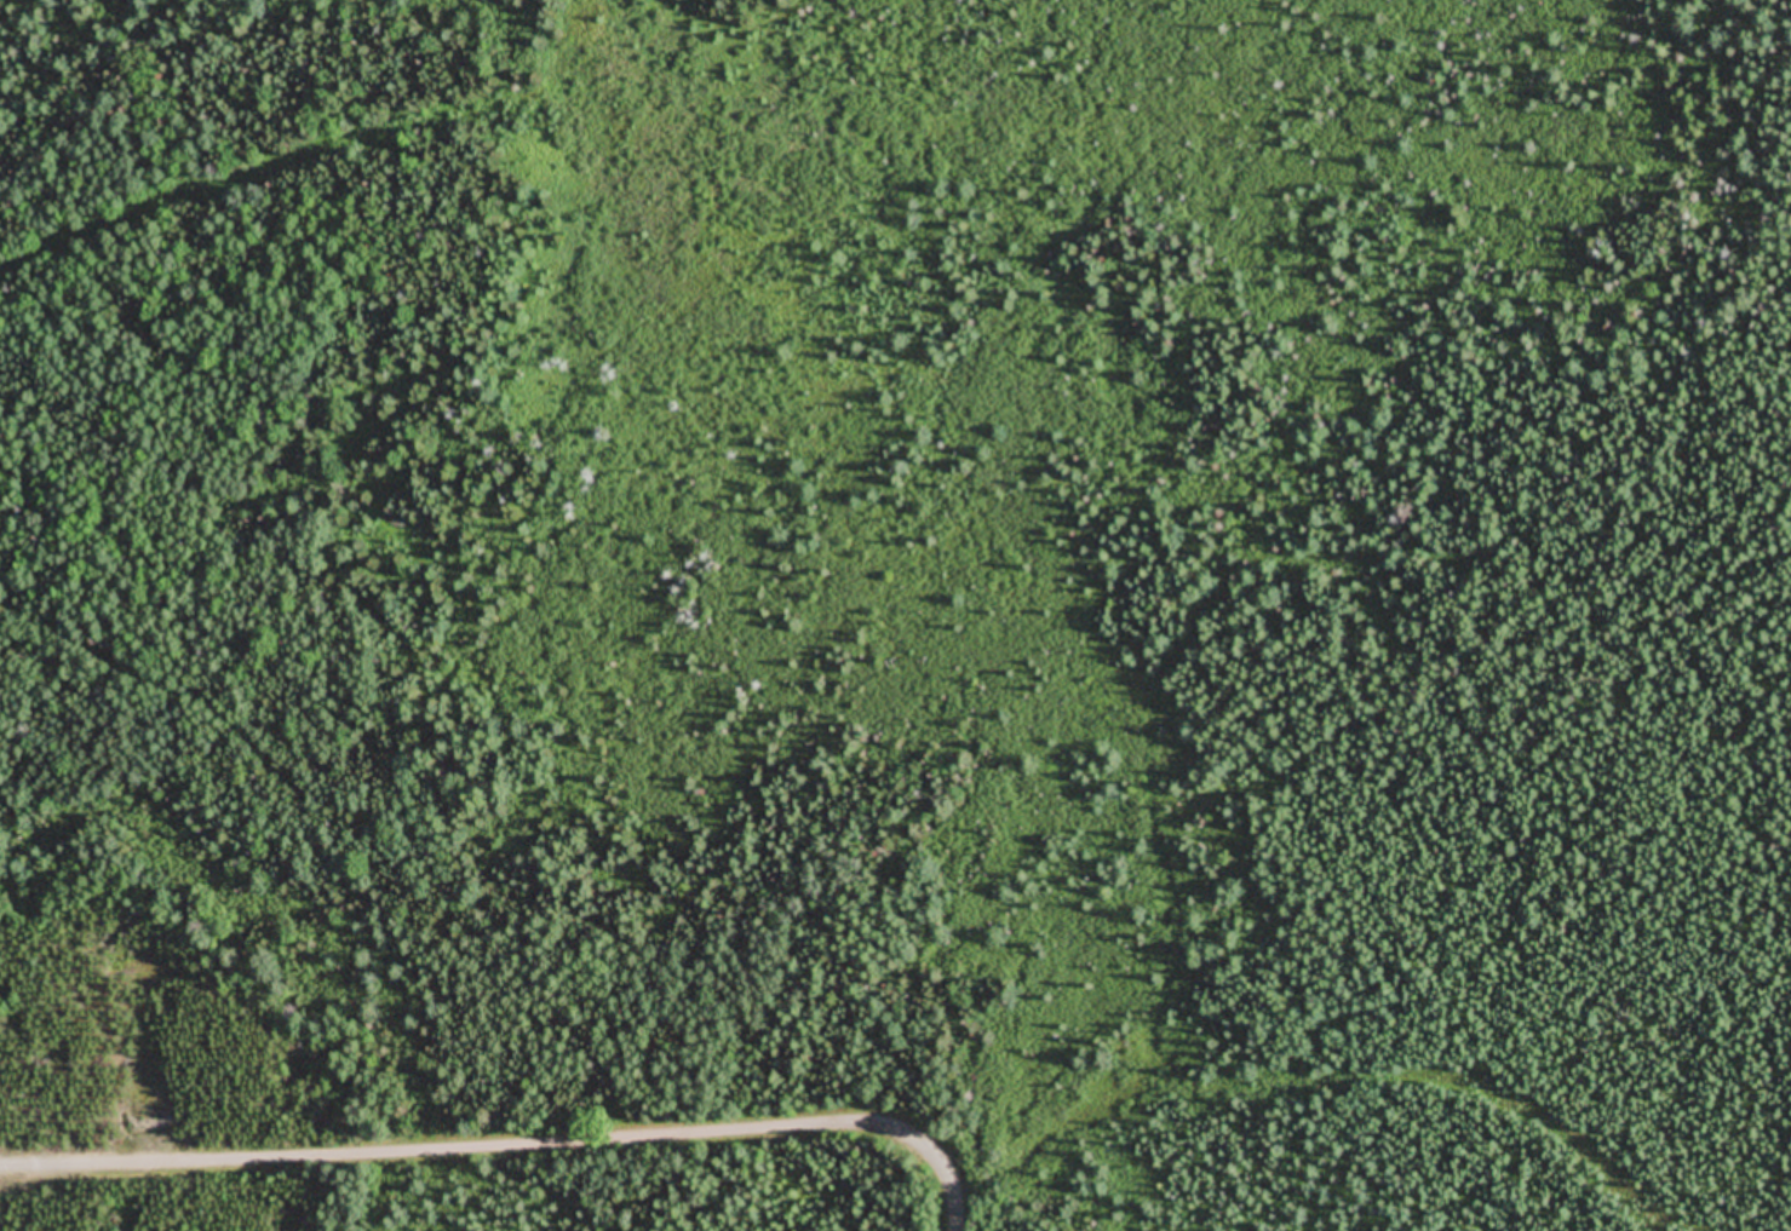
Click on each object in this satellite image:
road: (511, 1139)

